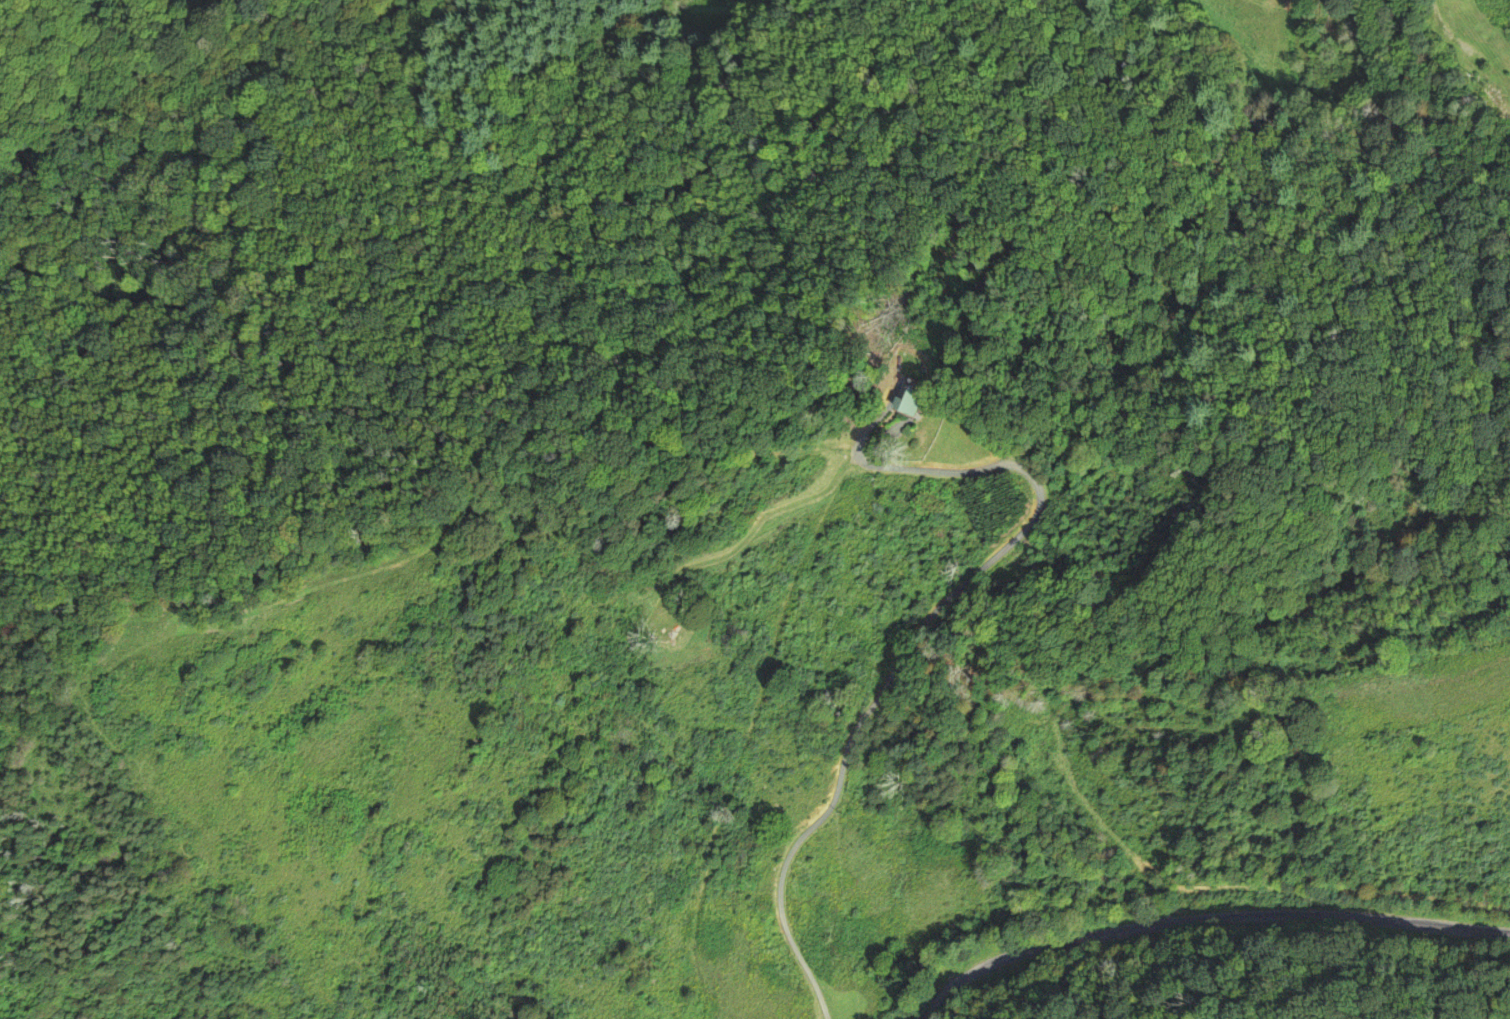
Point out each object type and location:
road: (1452, 41)
road: (924, 632)
road: (1204, 923)

